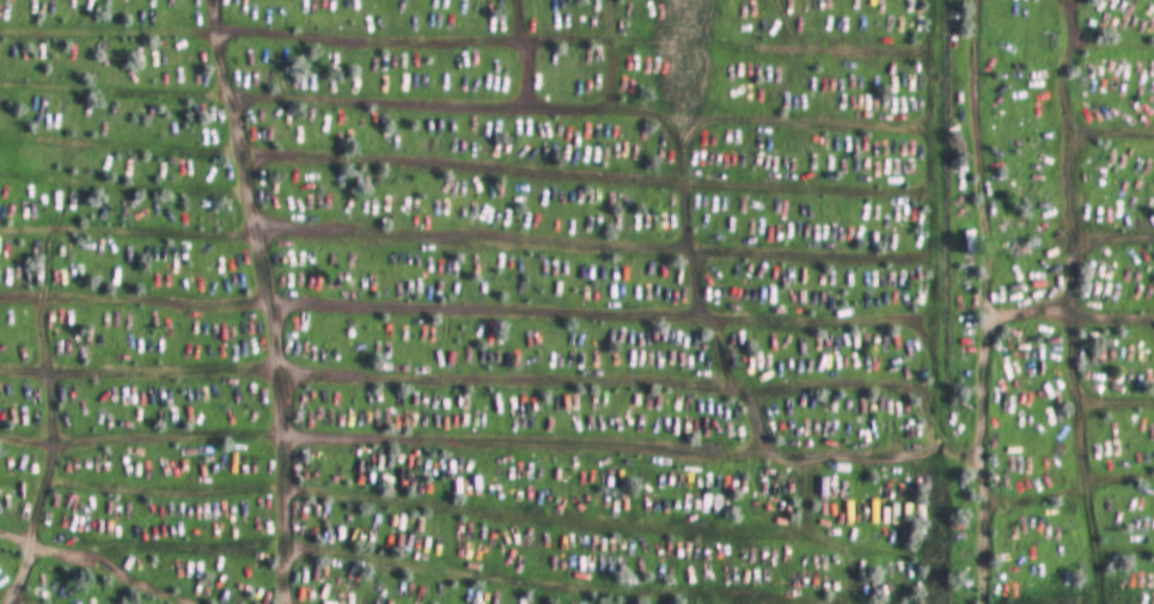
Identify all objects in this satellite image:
road: (91, 562)

